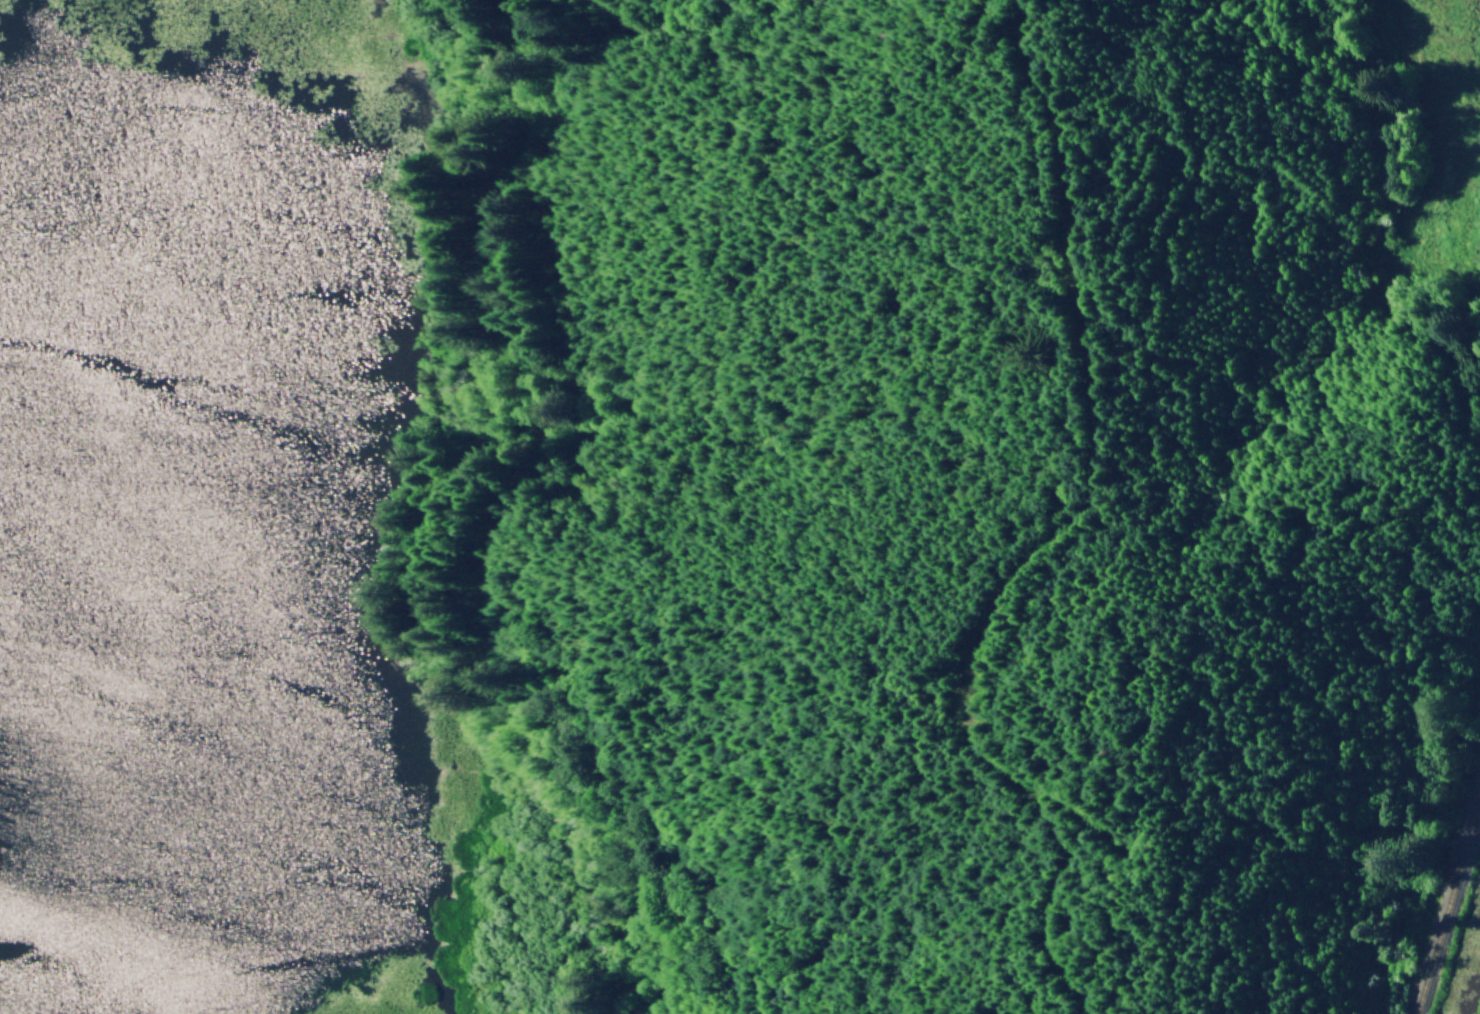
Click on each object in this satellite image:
railway: (1440, 883)

